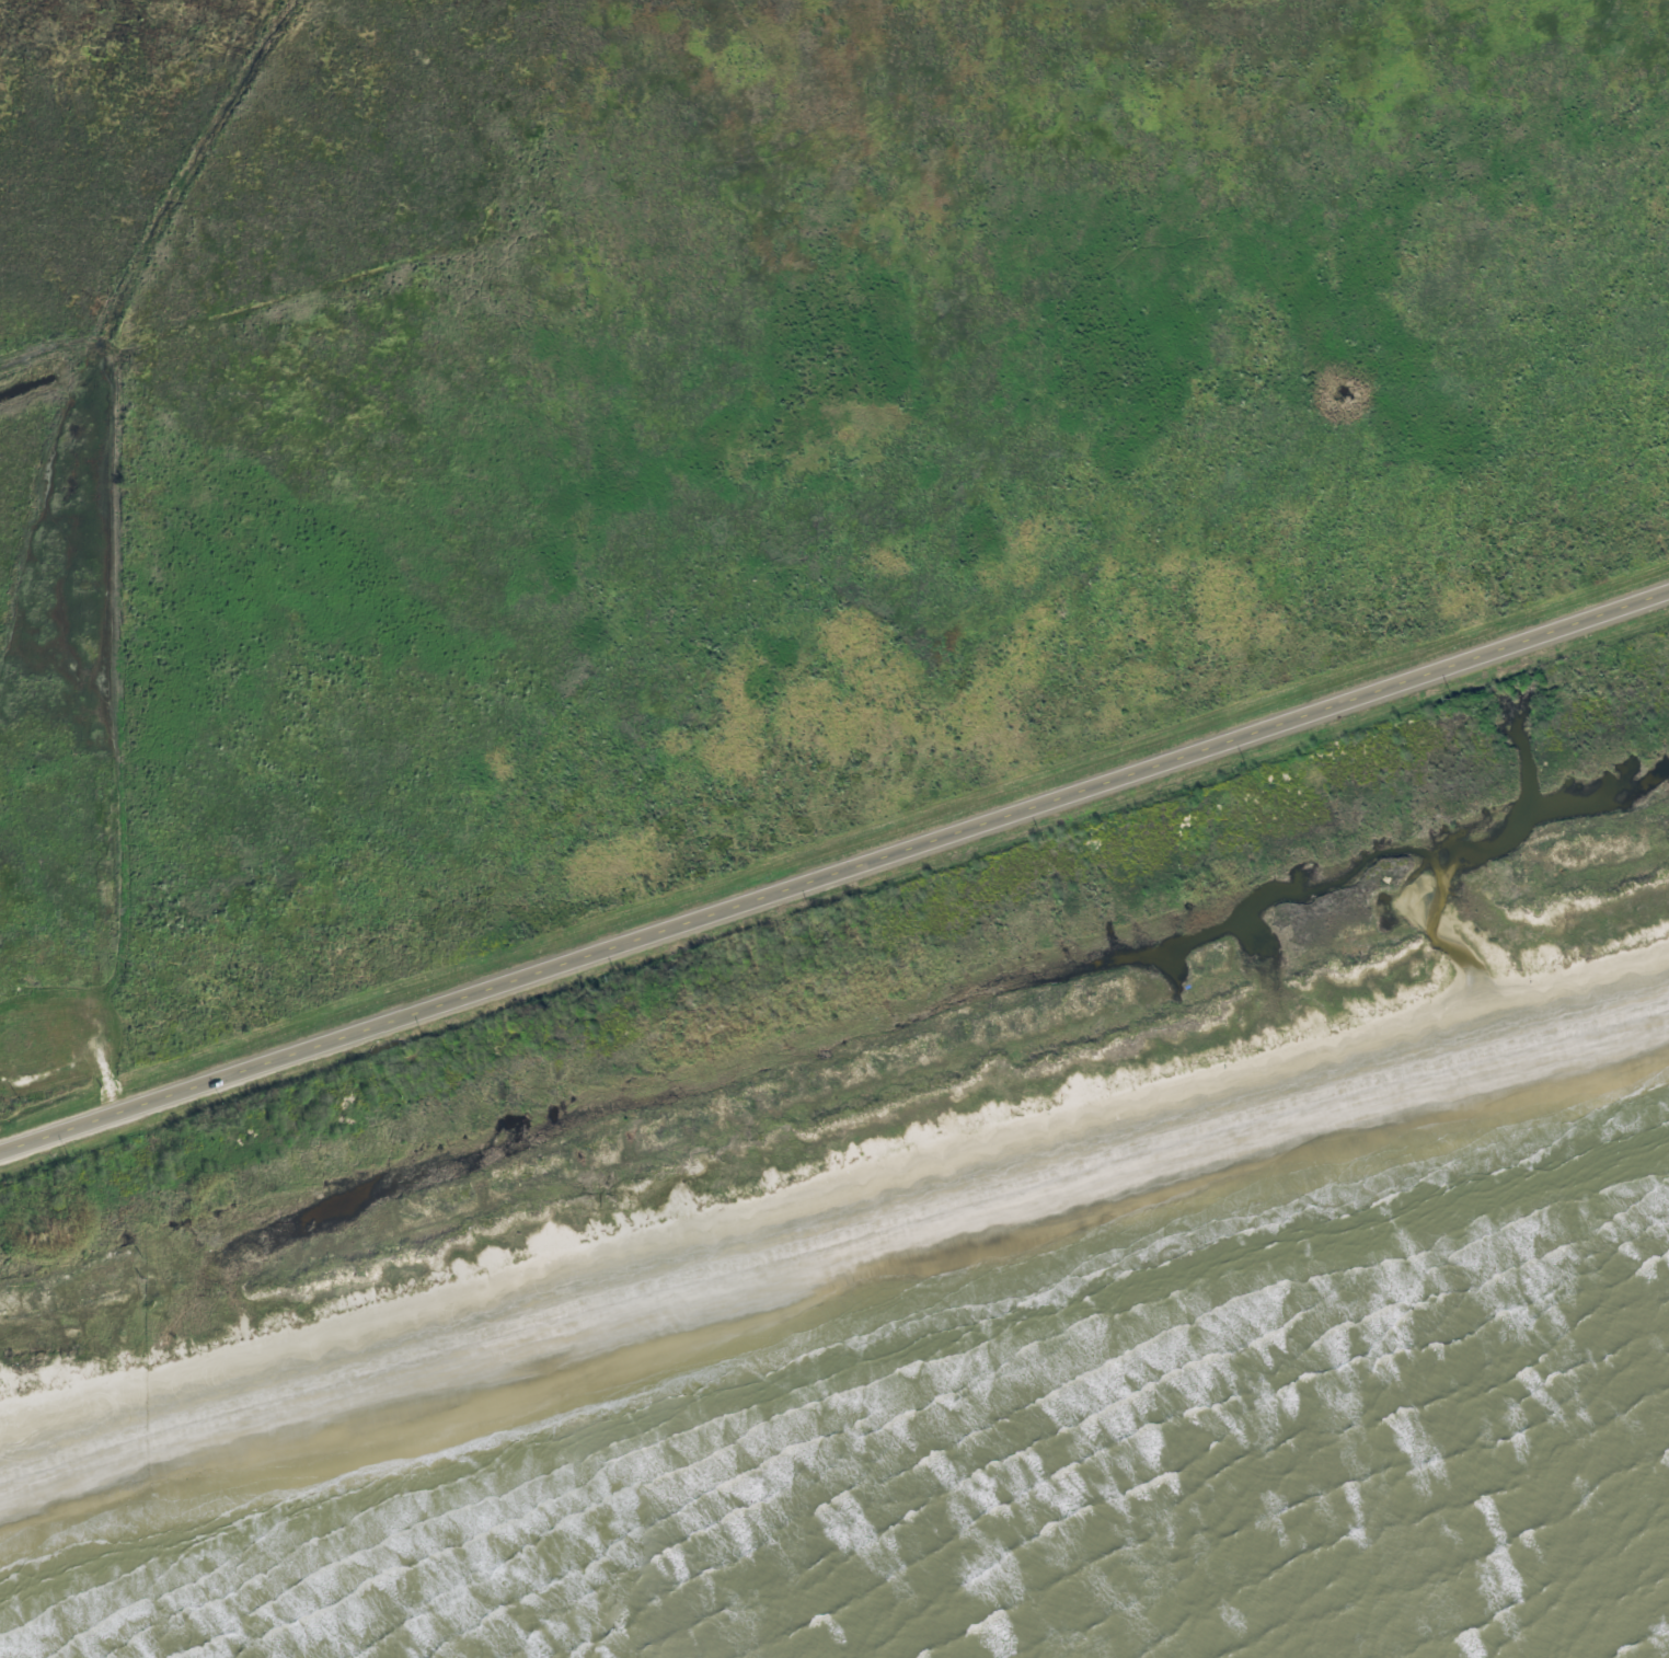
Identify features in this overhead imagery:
park: (898, 676)
road: (834, 874)

